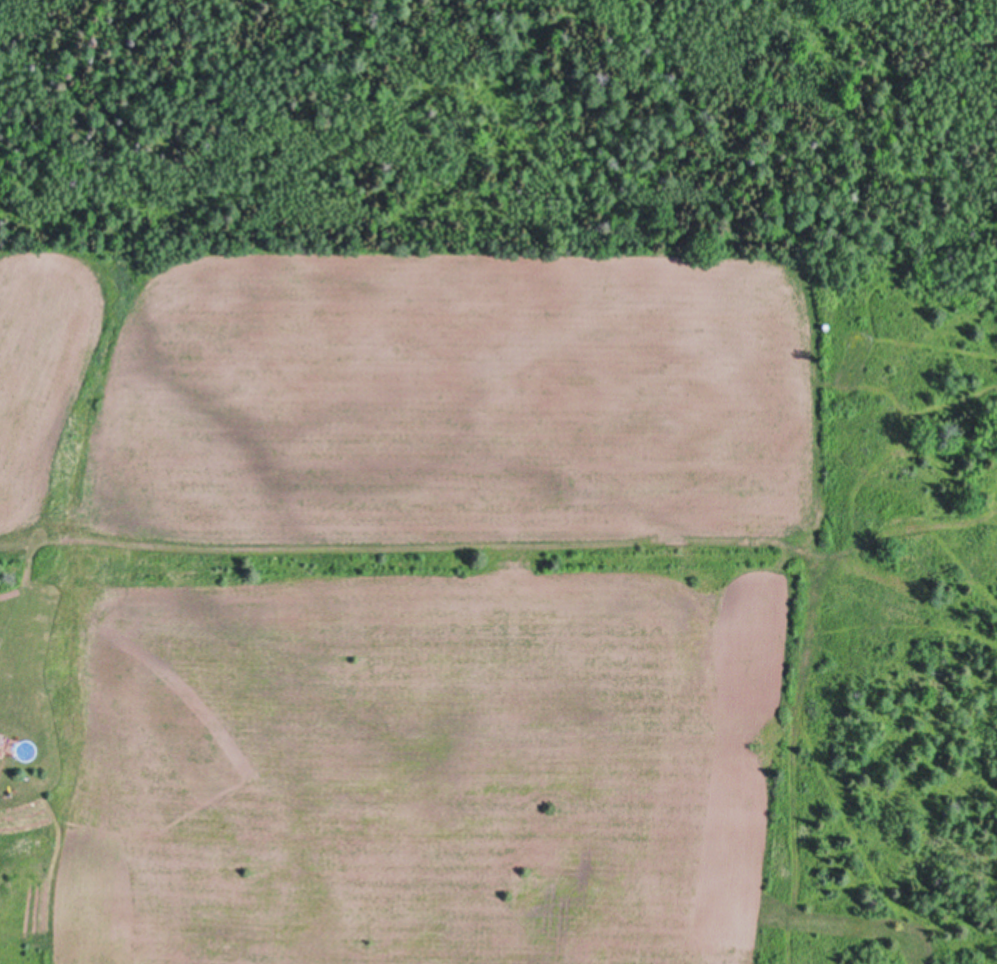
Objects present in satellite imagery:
building: (0, 736)

